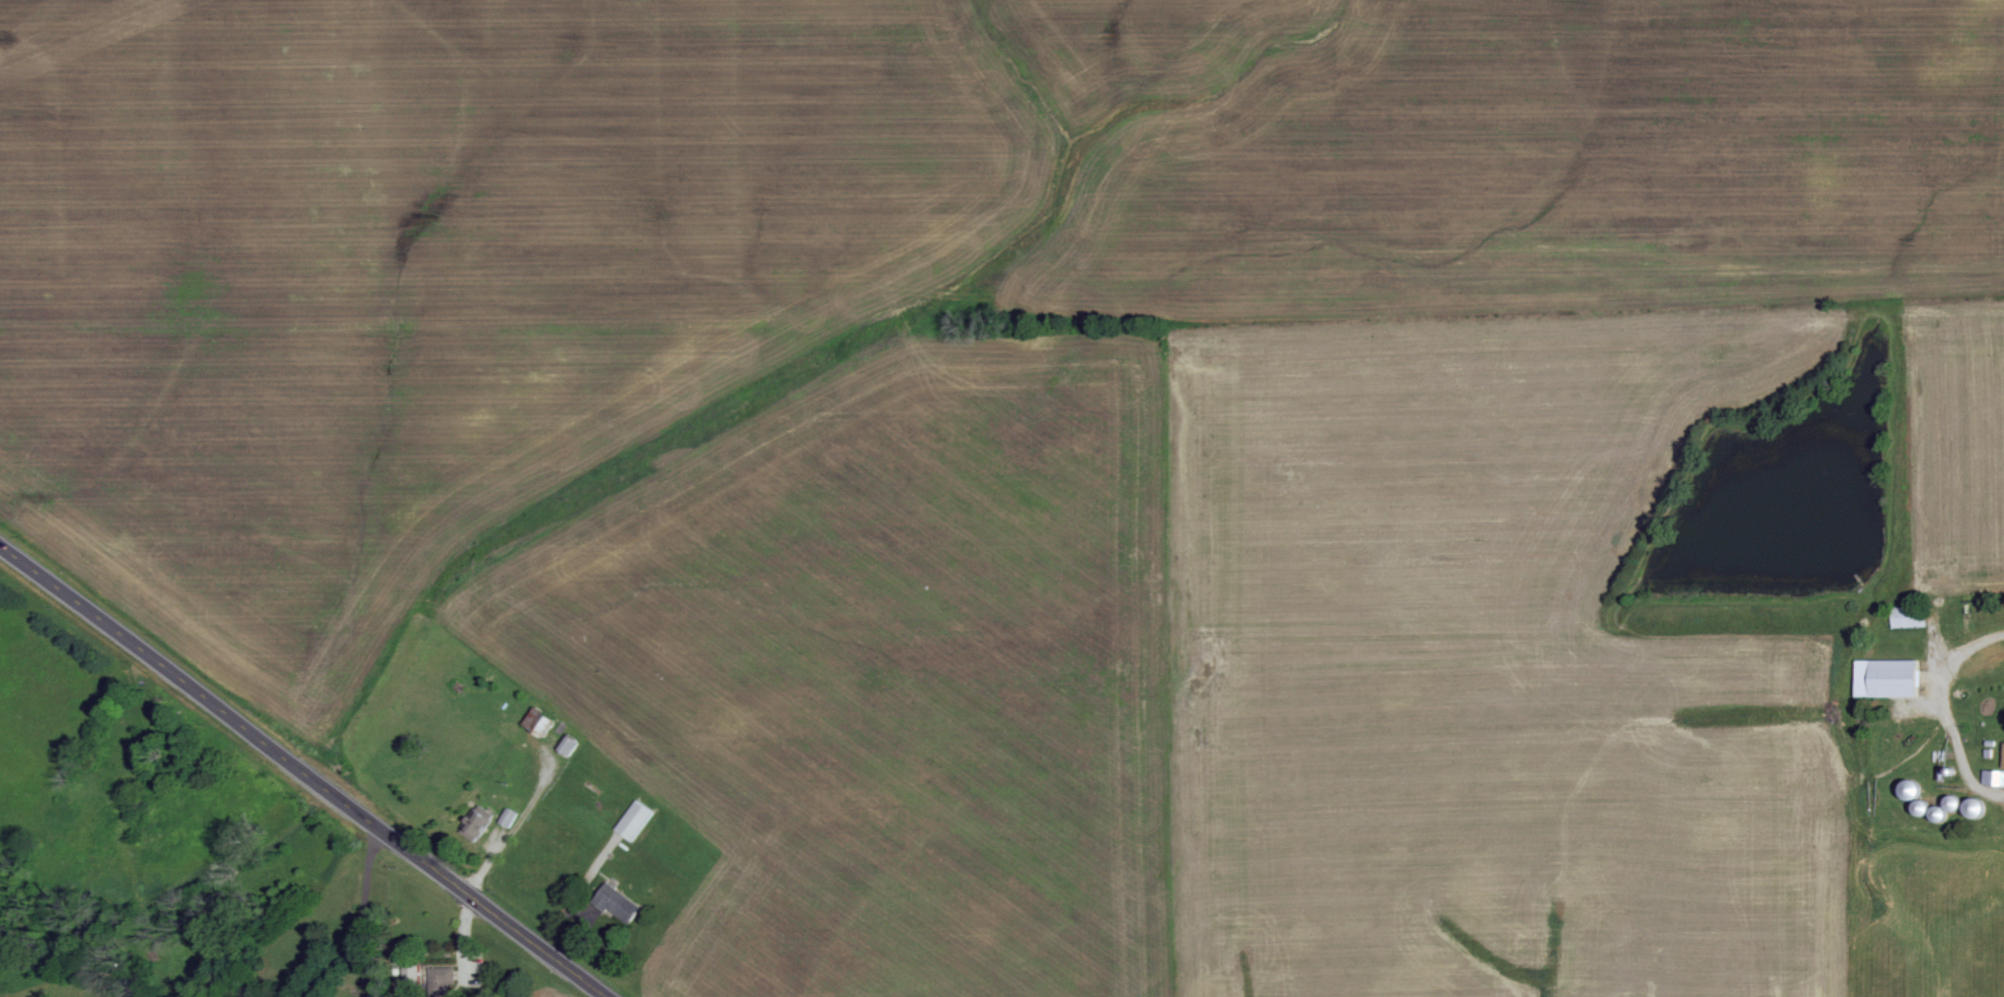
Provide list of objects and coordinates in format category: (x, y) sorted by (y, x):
building: (1909, 617)
building: (1888, 677)
road: (1945, 709)
road: (304, 770)
building: (1994, 777)
building: (509, 817)
building: (636, 820)
building: (479, 823)
road: (515, 826)
building: (617, 902)
road: (362, 919)
building: (441, 982)

